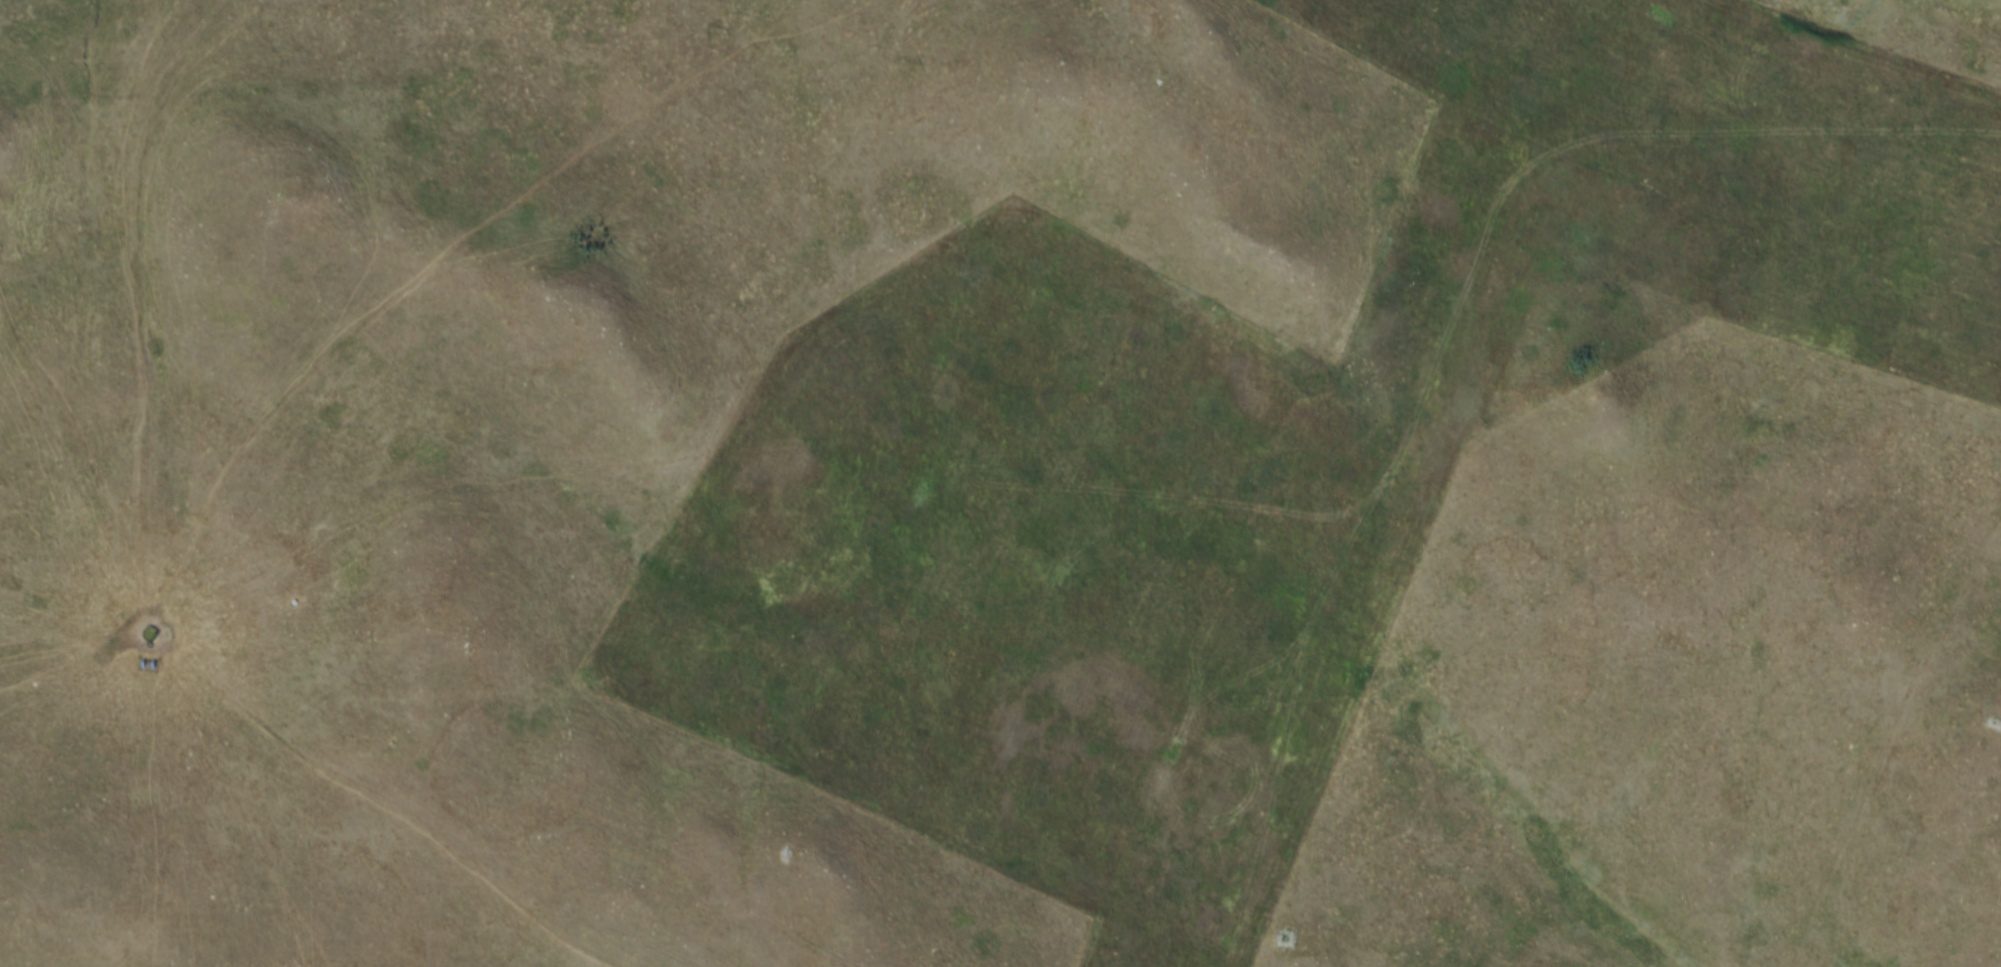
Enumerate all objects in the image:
road: (427, 815)

